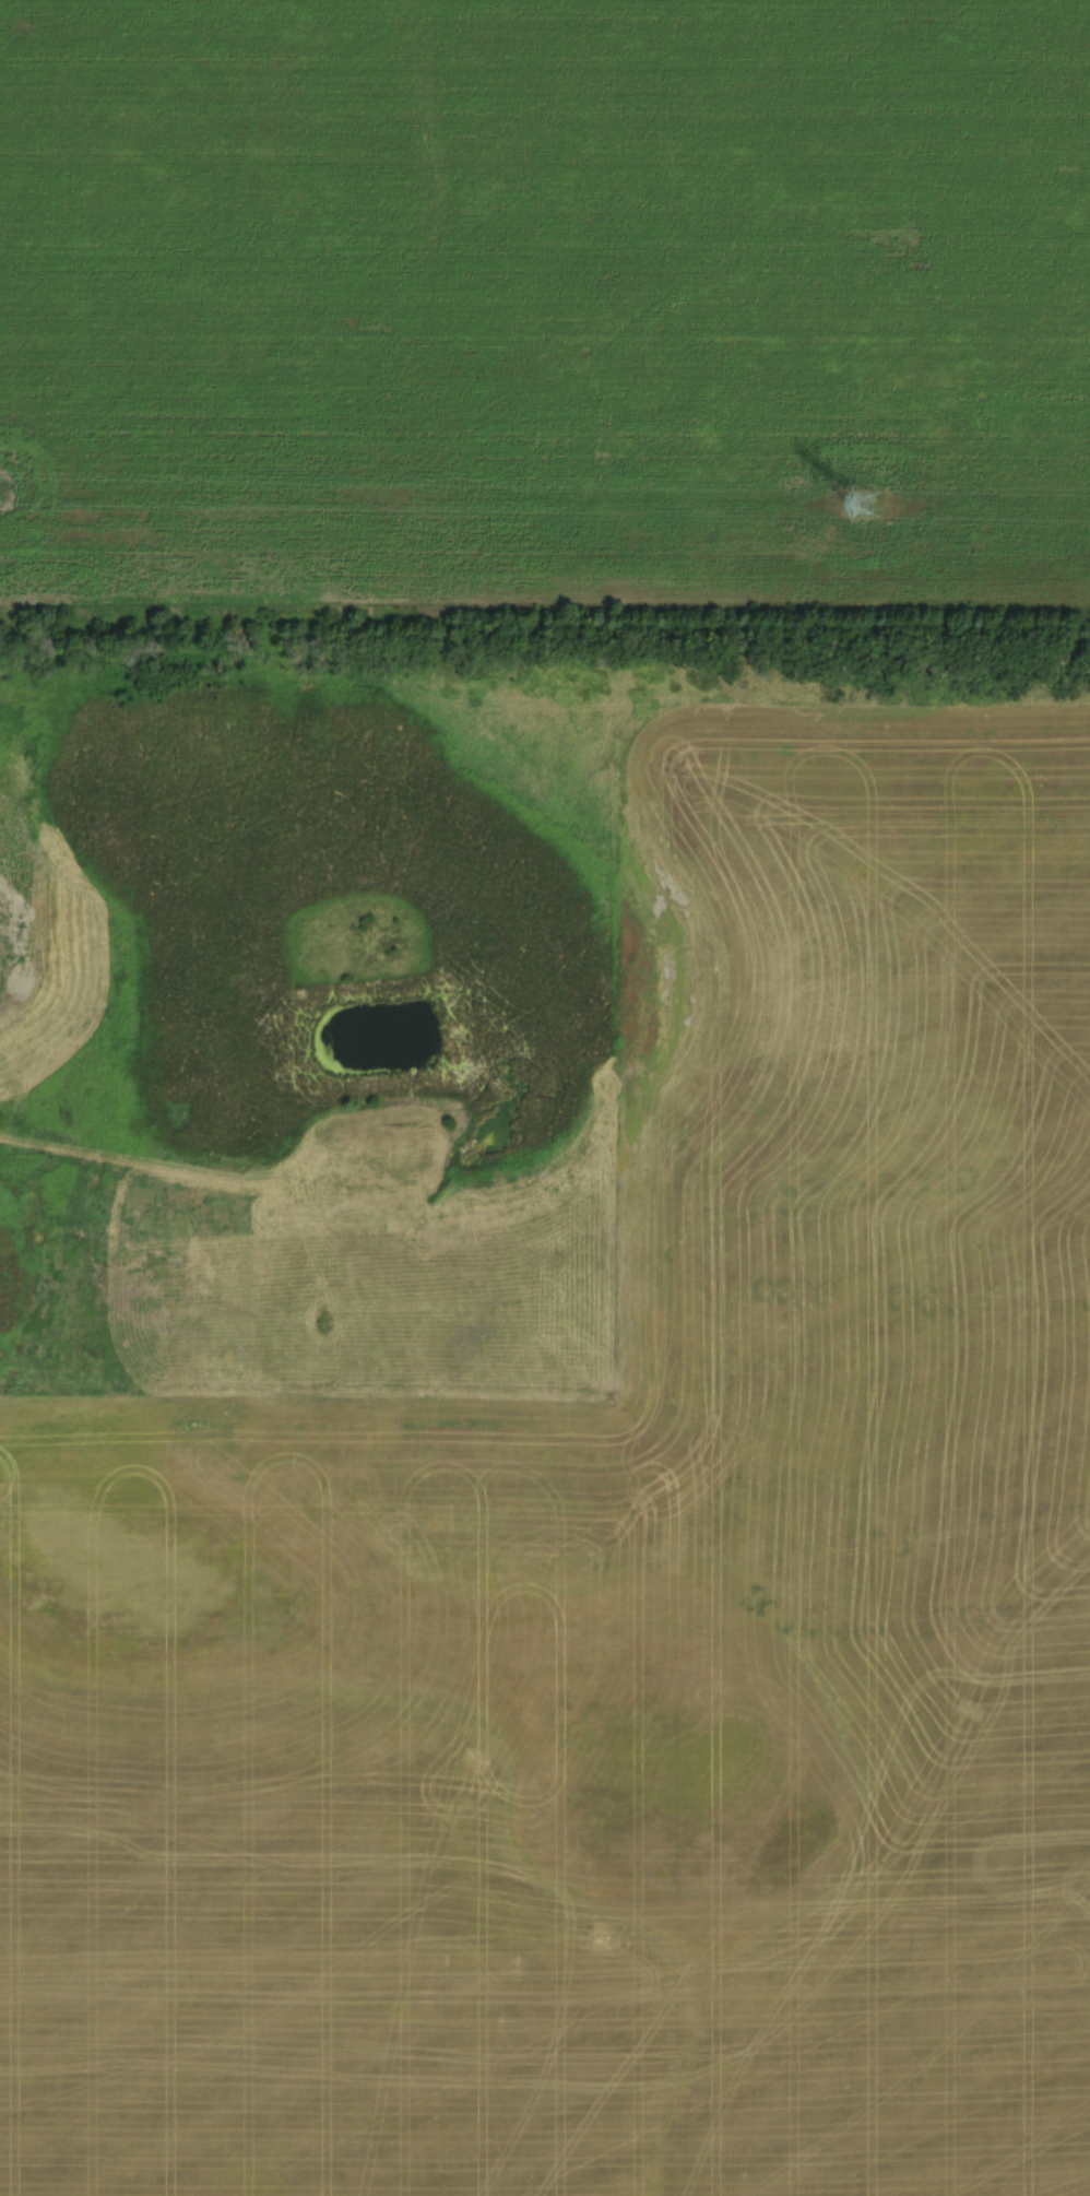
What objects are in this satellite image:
power tower: (863, 504)

